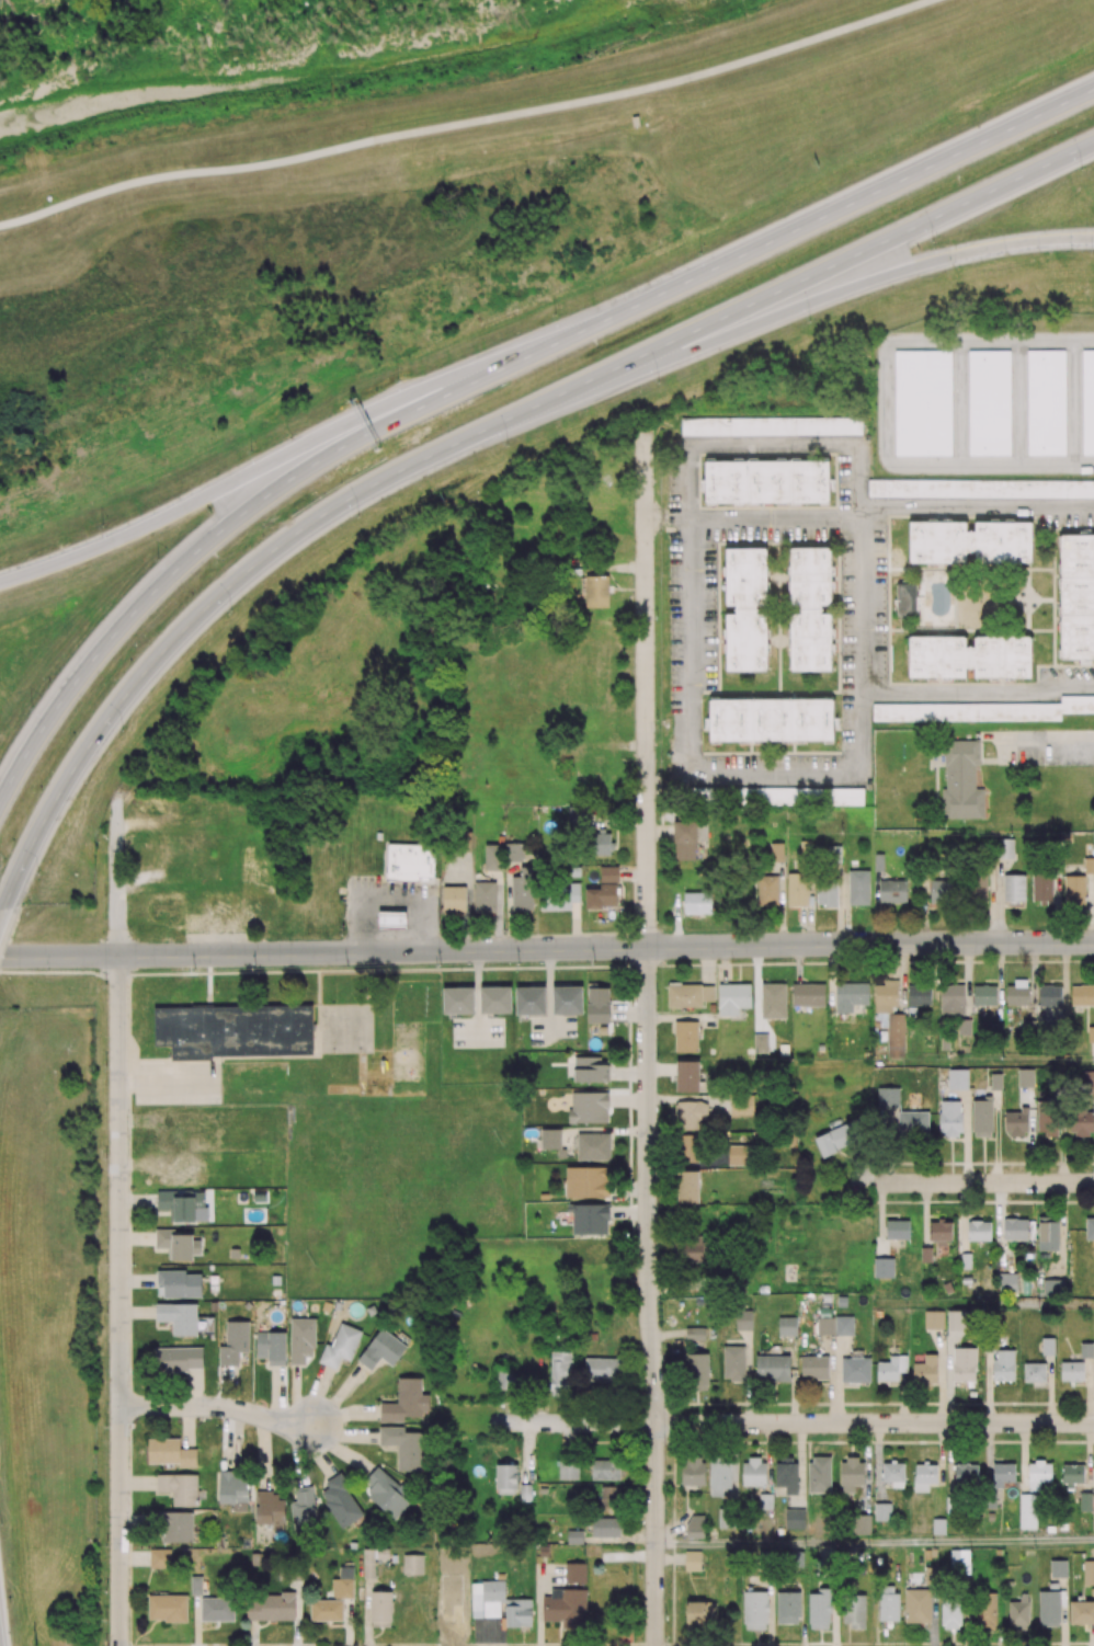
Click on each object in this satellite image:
road: (464, 126)
street lamp: (936, 242)
street lamp: (698, 252)
street lamp: (556, 313)
street lamp: (812, 322)
road: (490, 368)
street lamp: (396, 377)
street lamp: (659, 381)
building: (989, 402)
building: (1046, 402)
building: (1087, 402)
building: (923, 403)
building: (772, 426)
road: (548, 439)
road: (853, 446)
street lamp: (251, 451)
building: (766, 482)
road: (891, 506)
street lamp: (357, 519)
street lamp: (103, 526)
street lamp: (152, 555)
road: (487, 559)
street lamp: (231, 613)
road: (979, 693)
street lamp: (27, 706)
road: (646, 711)
street lamp: (123, 732)
road: (1047, 736)
building: (1067, 836)
building: (492, 856)
building: (576, 870)
street lamp: (41, 873)
building: (609, 873)
building: (454, 898)
building: (391, 918)
road: (546, 948)
traffic signals: (136, 956)
building: (808, 993)
building: (850, 994)
building: (733, 996)
building: (529, 998)
building: (567, 998)
building: (458, 999)
building: (495, 999)
building: (773, 999)
building: (233, 1029)
building: (1091, 1033)
building: (685, 1035)
building: (760, 1042)
building: (820, 1045)
building: (783, 1049)
building: (749, 1050)
road: (1093, 1053)
road: (1018, 1064)
building: (687, 1075)
building: (1025, 1077)
building: (958, 1078)
building: (995, 1081)
building: (888, 1096)
road: (1092, 1097)
road: (965, 1135)
road: (1030, 1135)
road: (995, 1136)
building: (179, 1169)
road: (983, 1182)
road: (925, 1213)
road: (962, 1216)
road: (880, 1220)
road: (1000, 1226)
road: (1061, 1230)
road: (65, 1296)
road: (649, 1296)
road: (91, 1298)
road: (1011, 1302)
building: (247, 1304)
building: (340, 1304)
building: (326, 1305)
building: (178, 1316)
building: (300, 1339)
building: (233, 1341)
building: (340, 1346)
road: (942, 1375)
road: (949, 1375)
road: (793, 1379)
road: (831, 1379)
road: (839, 1379)
road: (1050, 1388)
road: (1086, 1391)
road: (902, 1398)
road: (121, 1399)
road: (218, 1408)
road: (797, 1424)
road: (1023, 1456)
road: (1086, 1456)
road: (949, 1458)
road: (877, 1462)
road: (800, 1464)
road: (866, 1467)
road: (941, 1468)
building: (179, 1487)
street lamp: (1, 1522)
road: (875, 1543)
building: (383, 1553)
building: (368, 1563)
building: (411, 1564)
building: (168, 1607)
building: (217, 1608)
building: (327, 1609)

